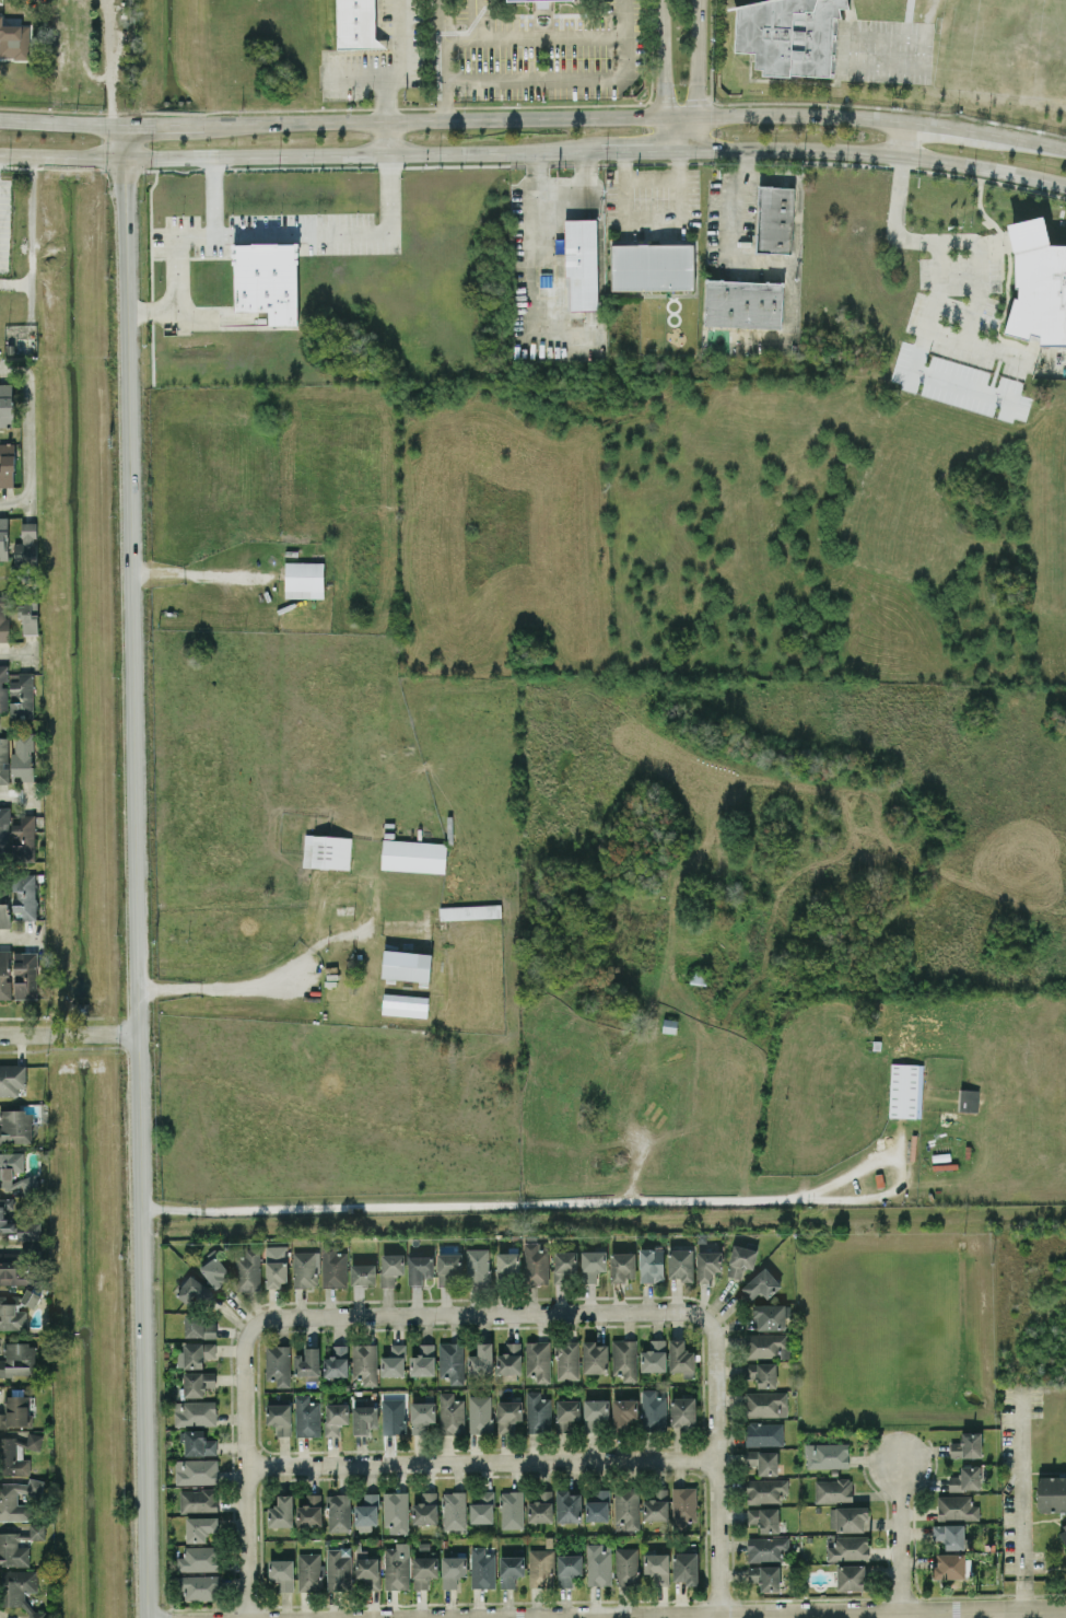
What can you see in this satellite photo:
road: (475, 20)
building: (356, 24)
building: (787, 34)
road: (403, 37)
road: (536, 38)
building: (14, 40)
park: (1004, 47)
road: (696, 58)
road: (110, 59)
road: (444, 59)
road: (661, 60)
road: (361, 74)
road: (573, 78)
road: (387, 97)
road: (644, 114)
road: (56, 121)
road: (296, 121)
road: (160, 123)
road: (945, 125)
road: (681, 131)
road: (388, 137)
road: (901, 137)
road: (1027, 139)
road: (641, 150)
road: (495, 153)
road: (874, 153)
road: (195, 156)
road: (773, 176)
road: (653, 177)
road: (212, 195)
road: (585, 198)
road: (538, 201)
road: (653, 217)
building: (775, 219)
road: (32, 233)
road: (283, 233)
road: (948, 238)
building: (581, 264)
road: (769, 264)
building: (653, 266)
building: (267, 280)
road: (15, 282)
building: (1038, 284)
building: (743, 303)
road: (527, 313)
road: (190, 317)
road: (937, 331)
building: (5, 405)
road: (32, 416)
building: (7, 464)
road: (15, 497)
building: (3, 538)
building: (26, 545)
road: (200, 573)
building: (304, 579)
building: (28, 616)
building: (3, 620)
road: (16, 653)
building: (3, 687)
building: (22, 695)
building: (22, 757)
building: (3, 759)
road: (16, 792)
building: (4, 830)
building: (23, 837)
building: (327, 851)
building: (413, 855)
road: (138, 869)
building: (24, 896)
building: (4, 906)
building: (469, 911)
road: (17, 934)
building: (406, 965)
building: (19, 974)
road: (270, 990)
road: (319, 998)
building: (405, 1004)
road: (70, 1035)
building: (12, 1079)
building: (905, 1090)
building: (968, 1099)
building: (16, 1127)
building: (10, 1166)
building: (27, 1184)
road: (593, 1202)
building: (19, 1224)
building: (741, 1260)
building: (536, 1262)
building: (651, 1264)
building: (681, 1264)
building: (8, 1265)
building: (277, 1265)
building: (593, 1265)
building: (707, 1265)
building: (478, 1266)
building: (507, 1266)
building: (565, 1266)
building: (622, 1266)
building: (333, 1267)
building: (306, 1268)
building: (390, 1268)
building: (420, 1268)
building: (448, 1268)
building: (214, 1270)
building: (248, 1270)
building: (363, 1273)
building: (761, 1284)
building: (192, 1290)
building: (31, 1297)
building: (12, 1314)
road: (479, 1314)
building: (769, 1316)
building: (199, 1326)
building: (766, 1346)
building: (196, 1353)
building: (654, 1355)
building: (595, 1357)
building: (680, 1357)
building: (19, 1359)
building: (509, 1359)
building: (624, 1359)
building: (423, 1360)
building: (480, 1360)
building: (538, 1360)
building: (566, 1360)
building: (337, 1361)
building: (394, 1361)
building: (452, 1361)
building: (365, 1363)
building: (278, 1364)
building: (762, 1373)
building: (198, 1382)
building: (765, 1404)
building: (653, 1410)
building: (422, 1411)
building: (538, 1411)
building: (683, 1411)
building: (16, 1412)
building: (195, 1412)
building: (623, 1412)
building: (452, 1413)
building: (480, 1413)
building: (596, 1415)
building: (307, 1416)
building: (363, 1416)
building: (393, 1416)
building: (509, 1416)
building: (336, 1417)
building: (280, 1418)
building: (764, 1433)
building: (198, 1443)
building: (968, 1445)
building: (8, 1452)
building: (827, 1455)
road: (481, 1462)
building: (763, 1462)
road: (716, 1464)
road: (247, 1468)
building: (196, 1470)
building: (965, 1479)
road: (1020, 1486)
building: (765, 1490)
building: (833, 1490)
building: (1052, 1493)
building: (8, 1498)
building: (198, 1500)
building: (683, 1503)
building: (567, 1505)
building: (598, 1505)
building: (656, 1505)
building: (482, 1506)
building: (541, 1506)
building: (626, 1508)
building: (957, 1508)
building: (425, 1509)
building: (512, 1509)
building: (454, 1510)
building: (309, 1511)
building: (396, 1511)
building: (281, 1512)
building: (338, 1512)
building: (366, 1512)
building: (847, 1517)
building: (764, 1518)
building: (200, 1527)
building: (1063, 1534)
building: (949, 1535)
road: (899, 1537)
building: (9, 1541)
building: (766, 1548)
building: (850, 1548)
building: (199, 1558)
building: (598, 1563)
building: (397, 1565)
building: (626, 1565)
building: (950, 1565)
building: (424, 1567)
building: (657, 1567)
building: (338, 1568)
building: (482, 1568)
building: (540, 1568)
building: (569, 1568)
building: (686, 1568)
building: (511, 1569)
building: (366, 1570)
building: (453, 1570)
building: (309, 1571)
building: (282, 1573)
building: (765, 1576)
building: (851, 1576)
building: (199, 1586)
road: (1021, 1596)
road: (806, 1613)
road: (1006, 1615)

